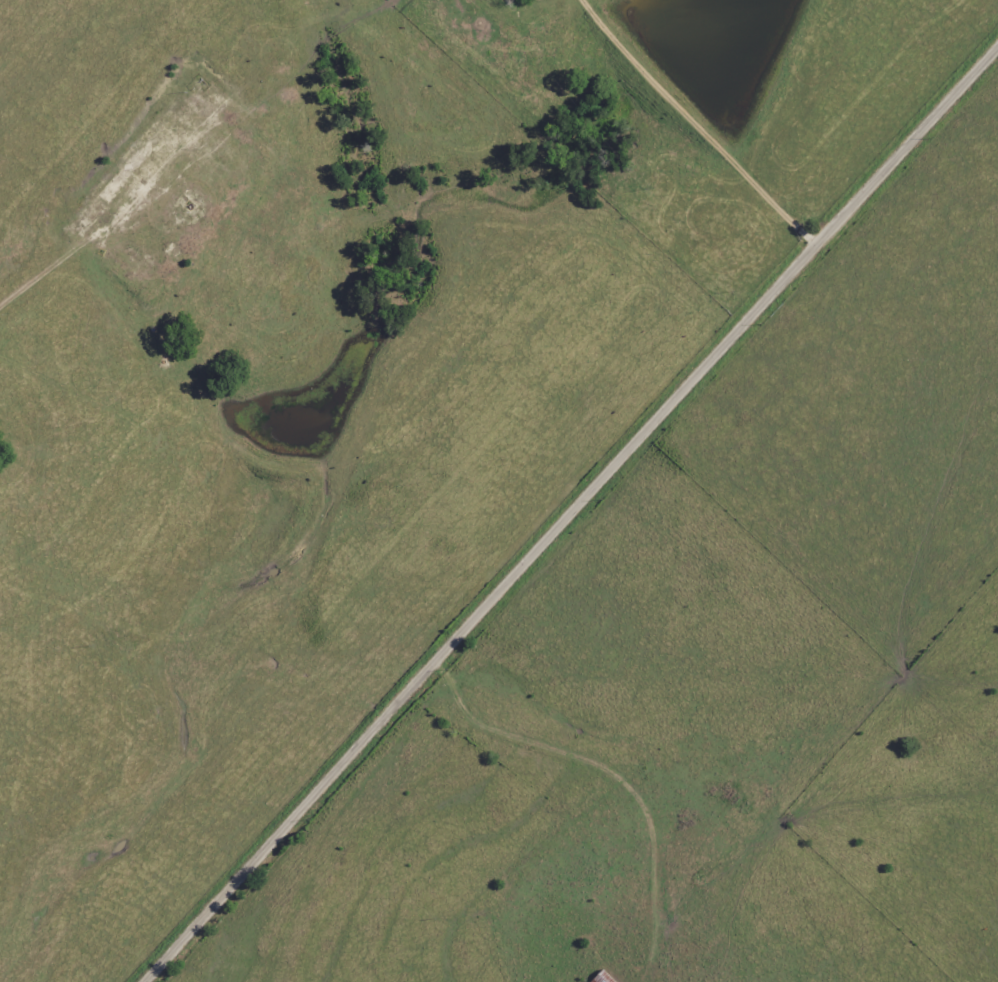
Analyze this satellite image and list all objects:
road: (571, 514)

